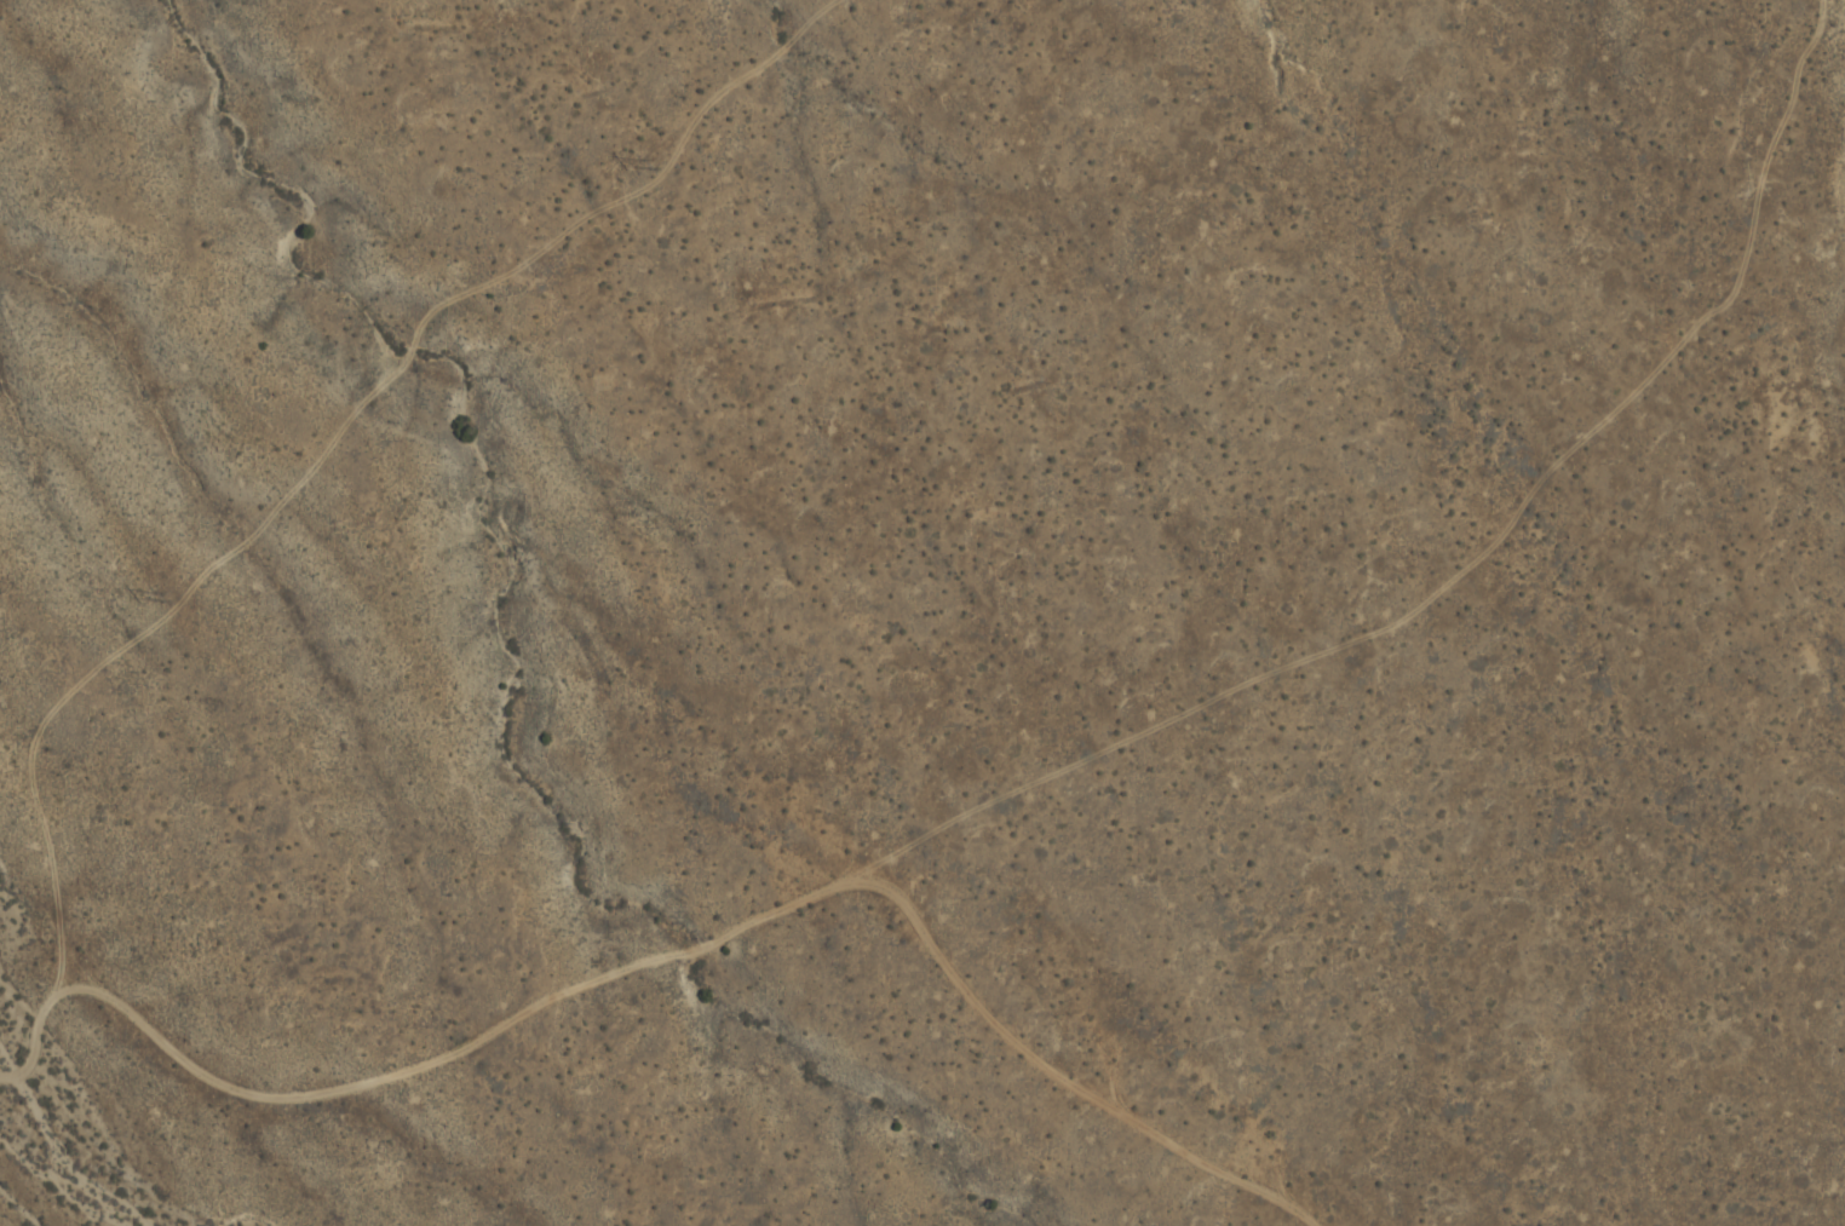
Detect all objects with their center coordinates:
power tower: (656, 166)
power tower: (163, 595)

